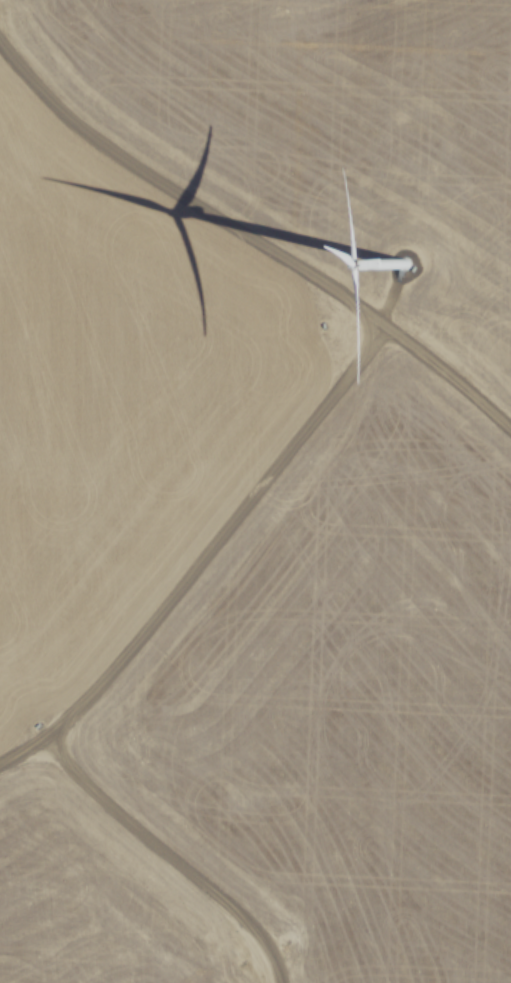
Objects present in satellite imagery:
wind turbine: (410, 274)

